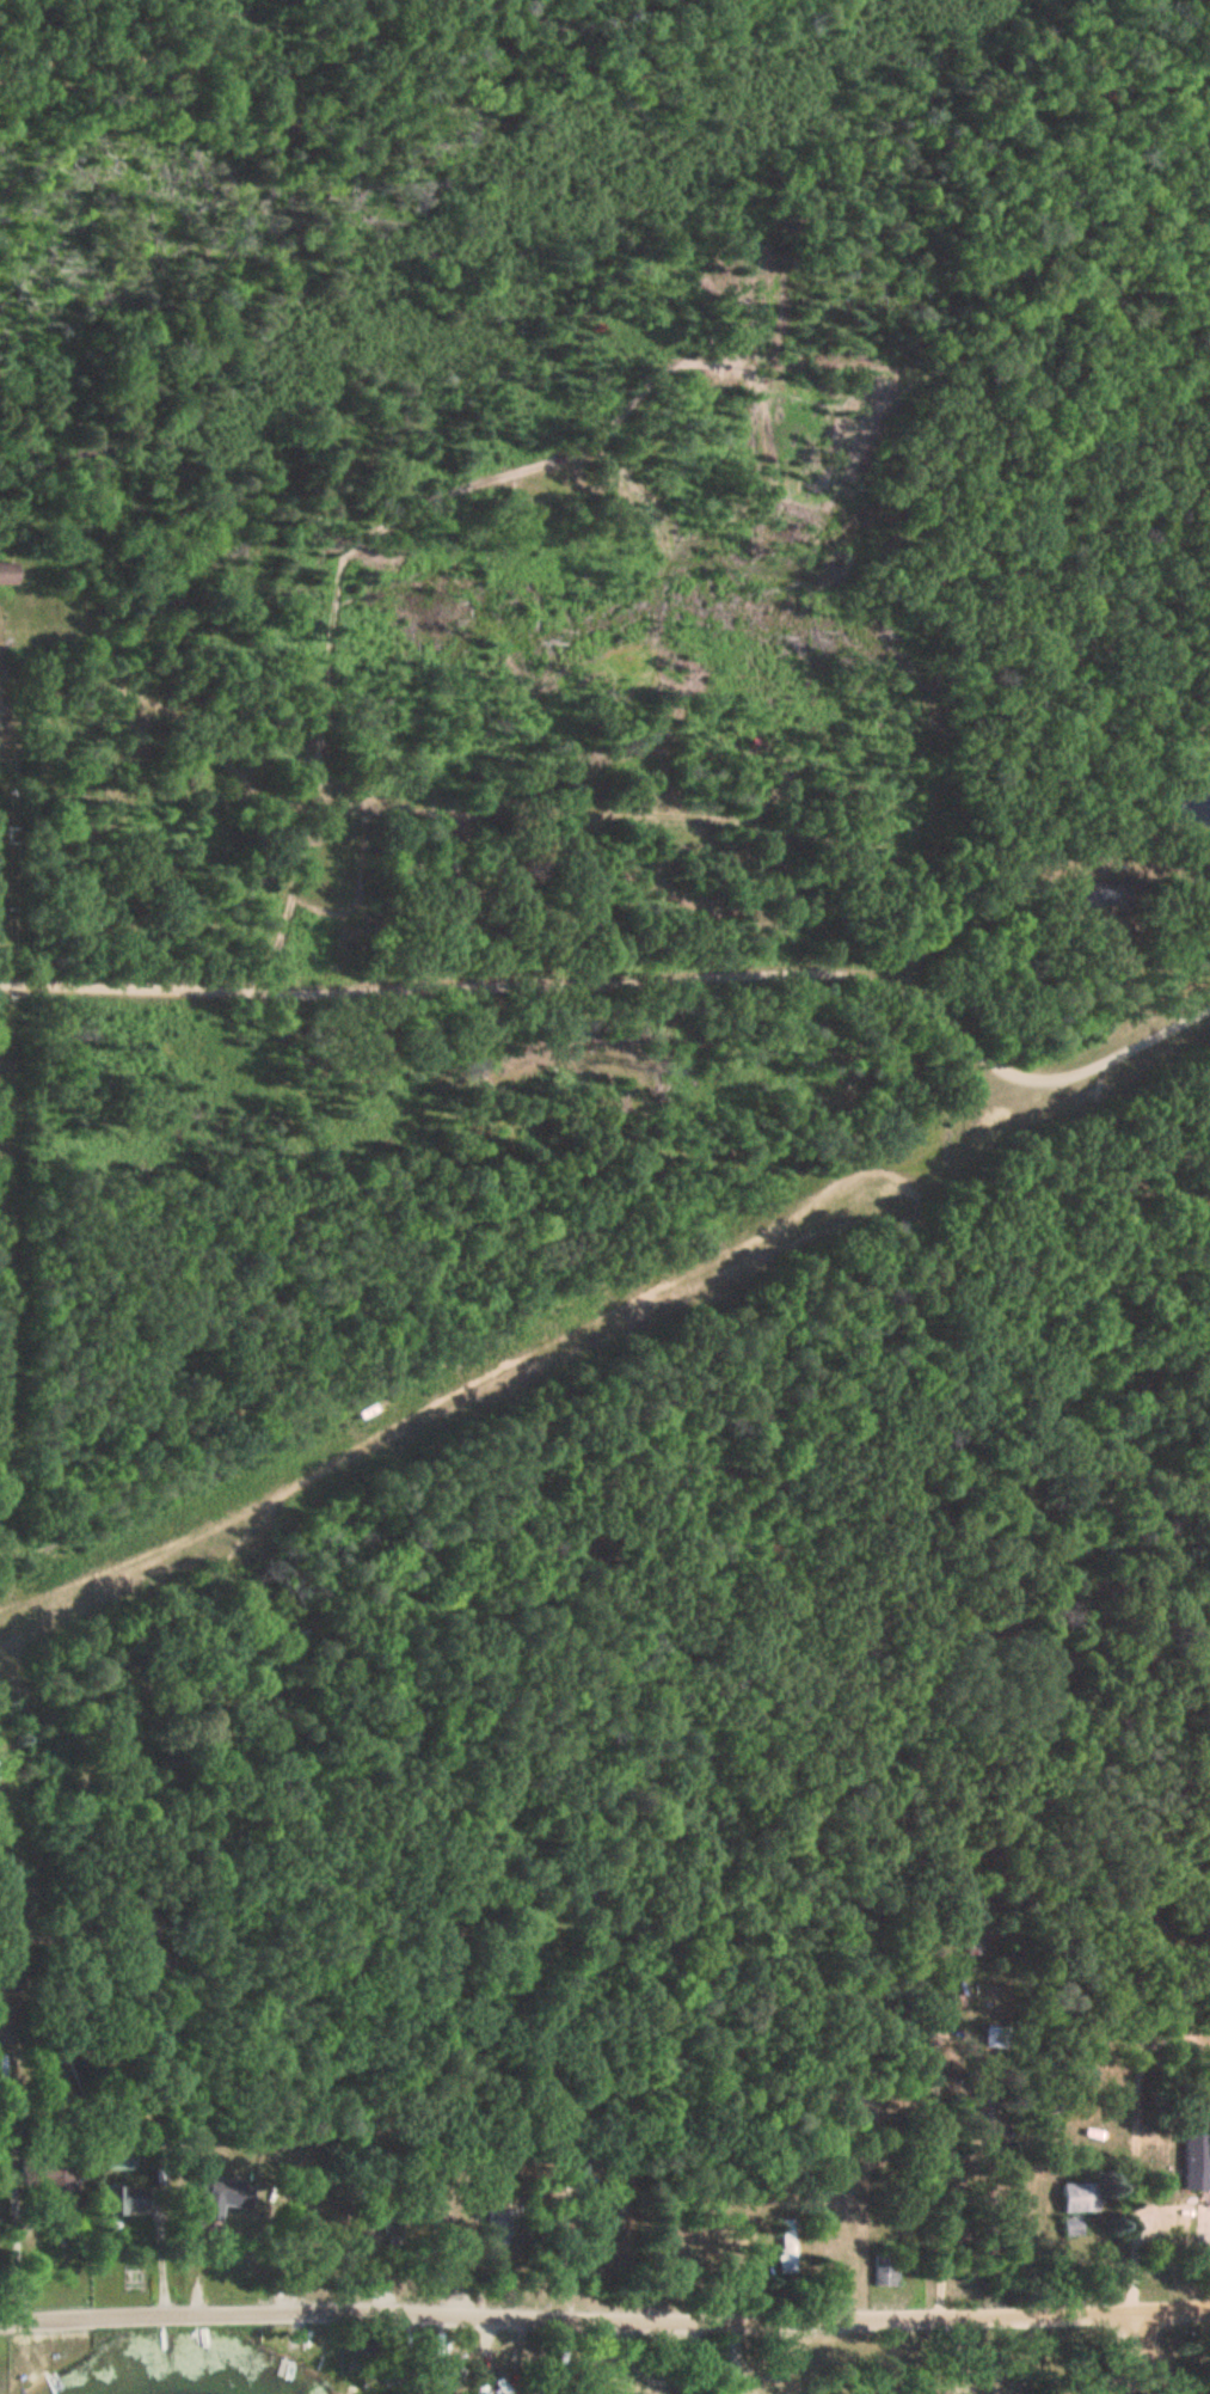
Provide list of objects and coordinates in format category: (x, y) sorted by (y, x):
road: (10, 2047)
building: (4, 2071)
road: (988, 2090)
building: (867, 2107)
building: (43, 2169)
building: (1082, 2197)
building: (394, 2239)
building: (787, 2263)
building: (886, 2271)
road: (604, 2318)
road: (1157, 2356)

